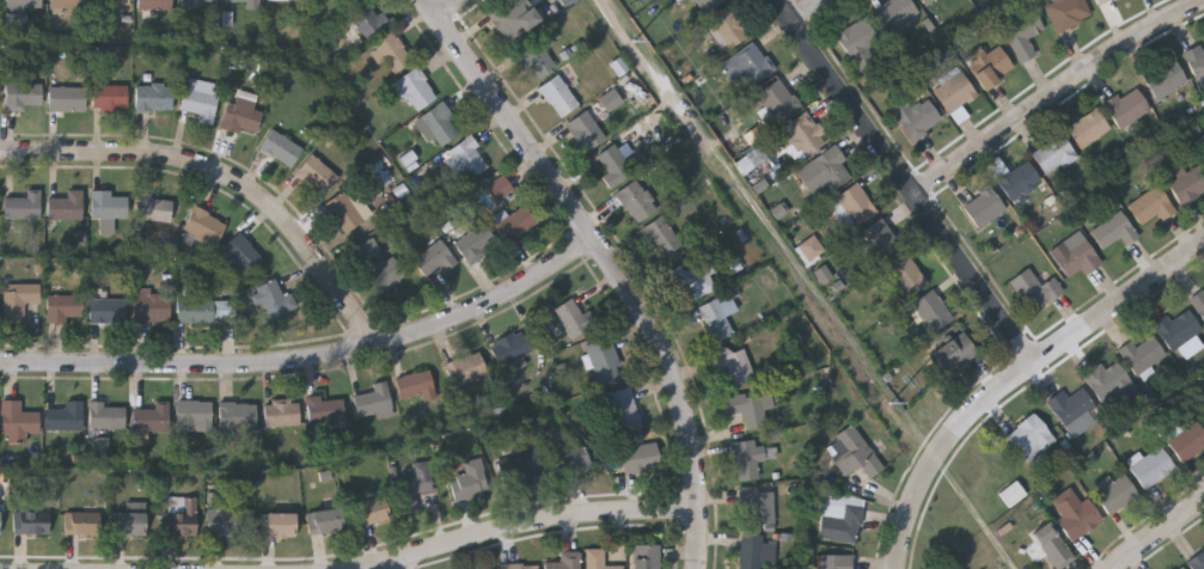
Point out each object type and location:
building: (0, 0)
building: (560, 0)
building: (243, 1)
building: (286, 1)
building: (922, 1)
building: (1102, 2)
building: (24, 4)
building: (109, 4)
building: (65, 5)
building: (154, 5)
building: (200, 5)
building: (708, 5)
road: (453, 10)
road: (812, 12)
building: (897, 14)
building: (1069, 14)
building: (16, 18)
building: (511, 19)
building: (367, 20)
building: (728, 29)
building: (1023, 36)
building: (857, 39)
building: (392, 54)
power tower: (636, 54)
building: (536, 61)
building: (1196, 62)
building: (621, 66)
building: (747, 66)
building: (989, 67)
building: (1166, 80)
building: (0, 82)
building: (415, 91)
road: (1056, 92)
building: (954, 93)
building: (23, 98)
building: (558, 98)
building: (109, 99)
building: (154, 99)
building: (66, 100)
building: (201, 100)
building: (778, 102)
building: (1126, 108)
building: (243, 118)
building: (916, 120)
building: (592, 123)
building: (439, 126)
building: (1088, 129)
building: (796, 137)
building: (1203, 143)
building: (281, 148)
building: (1053, 155)
building: (466, 159)
building: (613, 166)
building: (826, 169)
road: (227, 176)
building: (316, 176)
road: (907, 179)
building: (1019, 182)
building: (1188, 184)
building: (499, 189)
building: (636, 202)
building: (22, 207)
building: (855, 207)
building: (1151, 207)
building: (66, 208)
building: (983, 208)
building: (153, 209)
building: (106, 210)
building: (781, 210)
building: (343, 213)
building: (515, 225)
building: (204, 227)
building: (1113, 232)
building: (661, 237)
building: (880, 243)
building: (476, 244)
building: (809, 249)
building: (366, 250)
building: (243, 253)
building: (435, 259)
building: (1078, 259)
road: (613, 263)
building: (385, 275)
building: (907, 275)
building: (690, 282)
building: (1035, 288)
building: (275, 300)
building: (18, 301)
building: (1198, 302)
building: (63, 308)
building: (152, 308)
building: (106, 311)
building: (204, 311)
building: (933, 312)
building: (574, 318)
building: (716, 319)
building: (548, 323)
building: (1178, 330)
building: (509, 349)
building: (954, 354)
building: (1142, 355)
road: (311, 359)
building: (604, 362)
building: (732, 365)
building: (466, 372)
road: (1014, 378)
building: (1107, 383)
building: (416, 387)
power tower: (882, 400)
building: (373, 403)
building: (1070, 408)
building: (747, 410)
building: (325, 411)
building: (622, 411)
building: (194, 415)
building: (281, 415)
building: (105, 417)
building: (65, 418)
building: (237, 418)
building: (151, 420)
building: (17, 423)
building: (1031, 439)
building: (1187, 441)
building: (102, 443)
building: (854, 454)
building: (638, 459)
building: (570, 460)
building: (747, 460)
building: (520, 465)
building: (1151, 469)
building: (470, 484)
building: (415, 487)
building: (1013, 495)
building: (1116, 495)
building: (756, 508)
building: (1075, 515)
building: (182, 516)
building: (373, 516)
building: (842, 519)
building: (0, 521)
building: (323, 522)
building: (31, 524)
building: (230, 524)
building: (81, 525)
building: (127, 525)
building: (277, 526)
road: (527, 526)
road: (1159, 533)
building: (1053, 547)
building: (754, 552)
building: (646, 557)
building: (597, 559)
building: (1197, 561)
building: (567, 562)
road: (403, 563)
building: (836, 563)
building: (519, 567)
building: (1180, 568)
building: (1184, 568)

